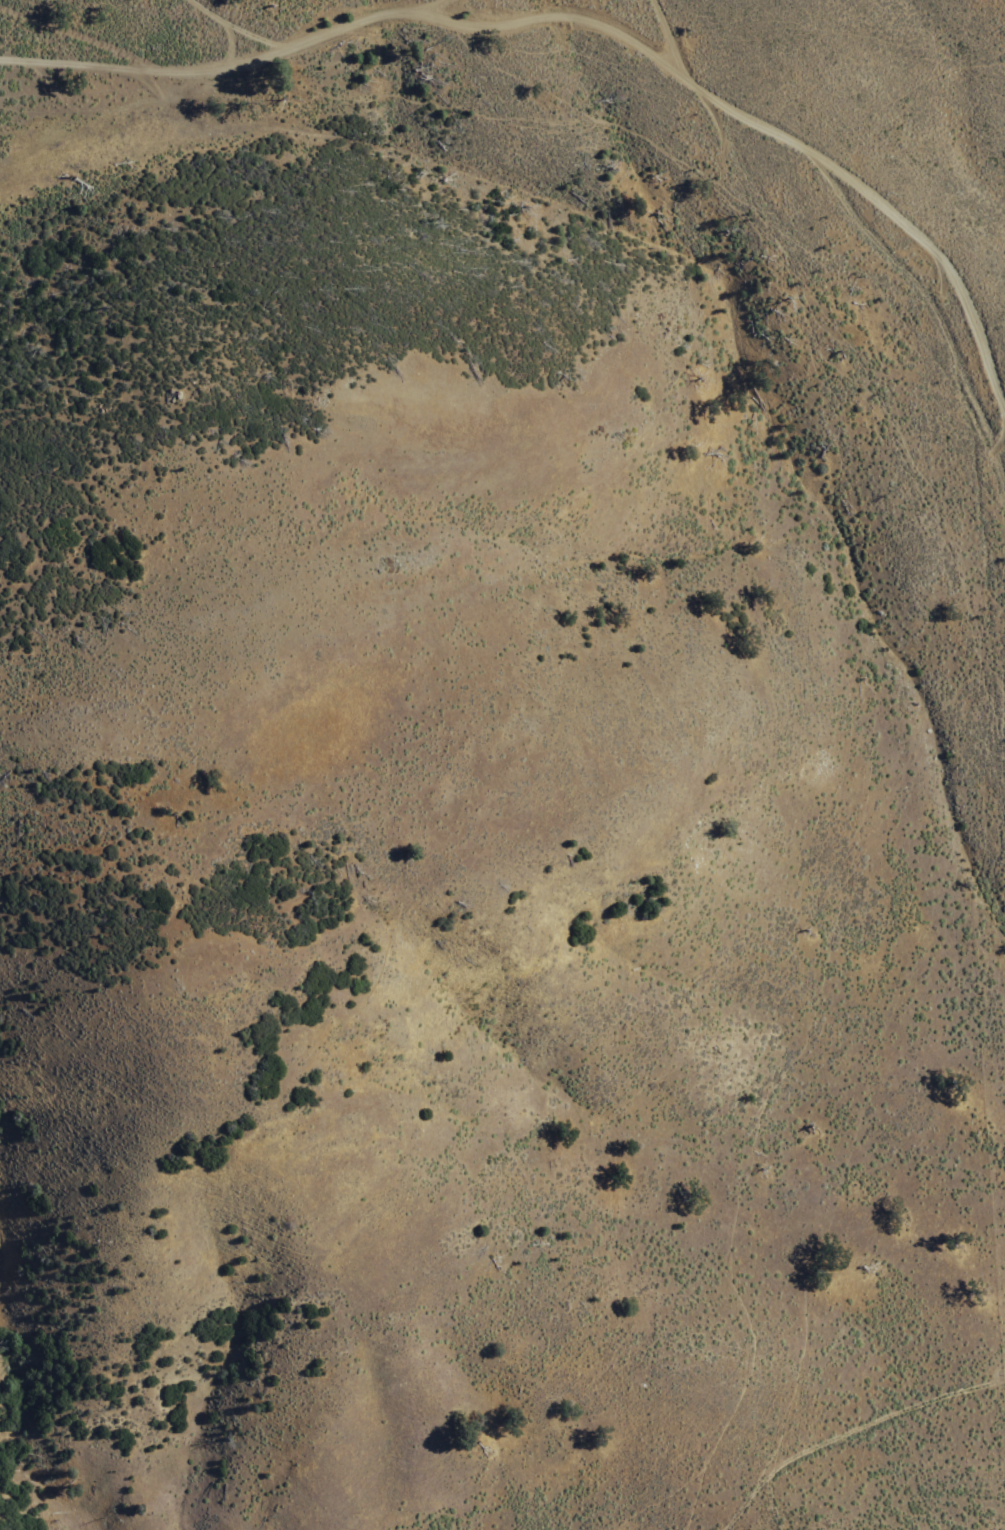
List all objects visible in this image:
road: (434, 3)
road: (361, 15)
road: (245, 27)
road: (79, 31)
road: (673, 37)
road: (230, 57)
road: (77, 61)
road: (137, 98)
road: (771, 124)
road: (849, 1432)

